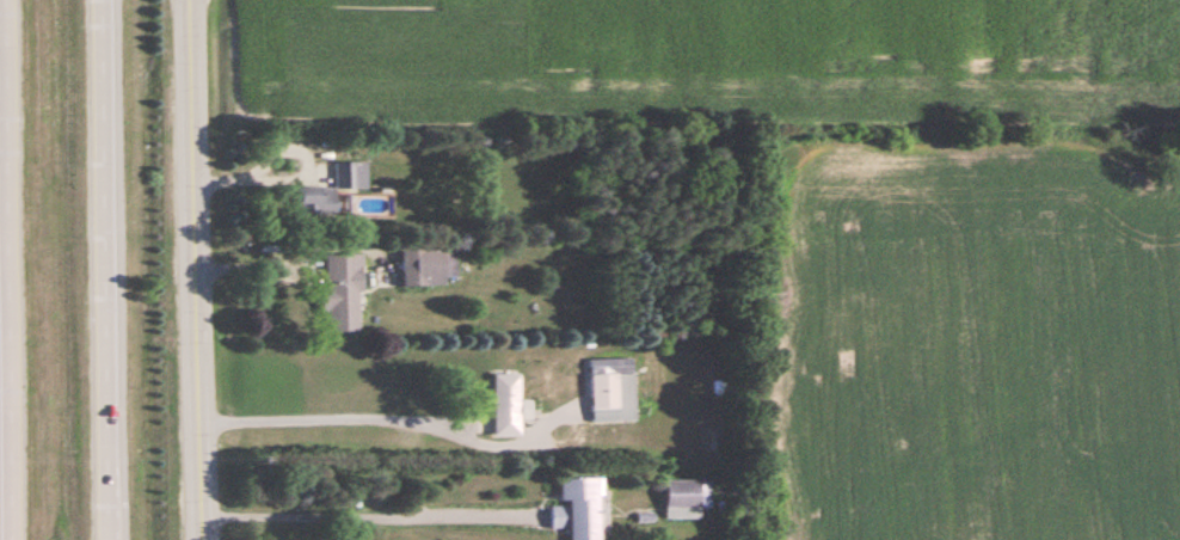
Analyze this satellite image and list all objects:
road: (295, 173)
building: (332, 185)
road: (283, 256)
building: (429, 262)
road: (1, 270)
road: (93, 270)
road: (193, 270)
building: (344, 289)
building: (614, 386)
building: (508, 400)
road: (330, 415)
building: (688, 493)
building: (583, 505)
road: (357, 511)

